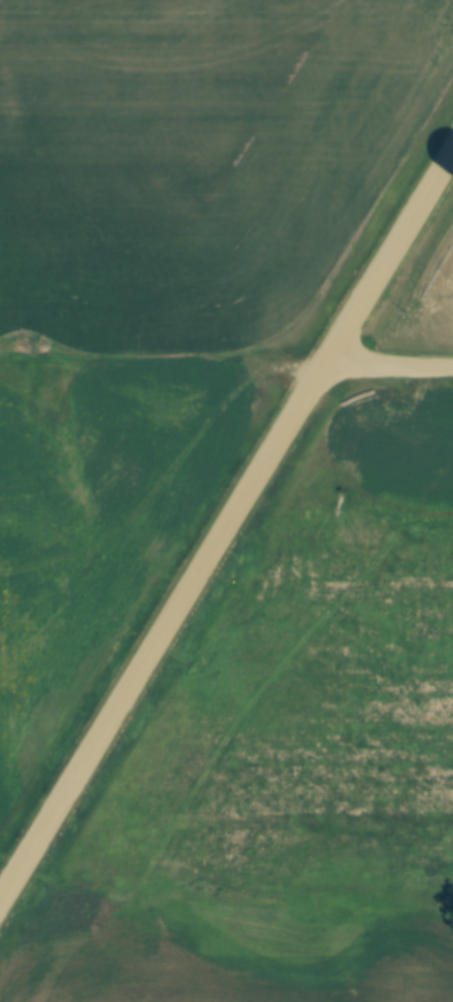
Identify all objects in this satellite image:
road: (389, 366)
road: (227, 526)

